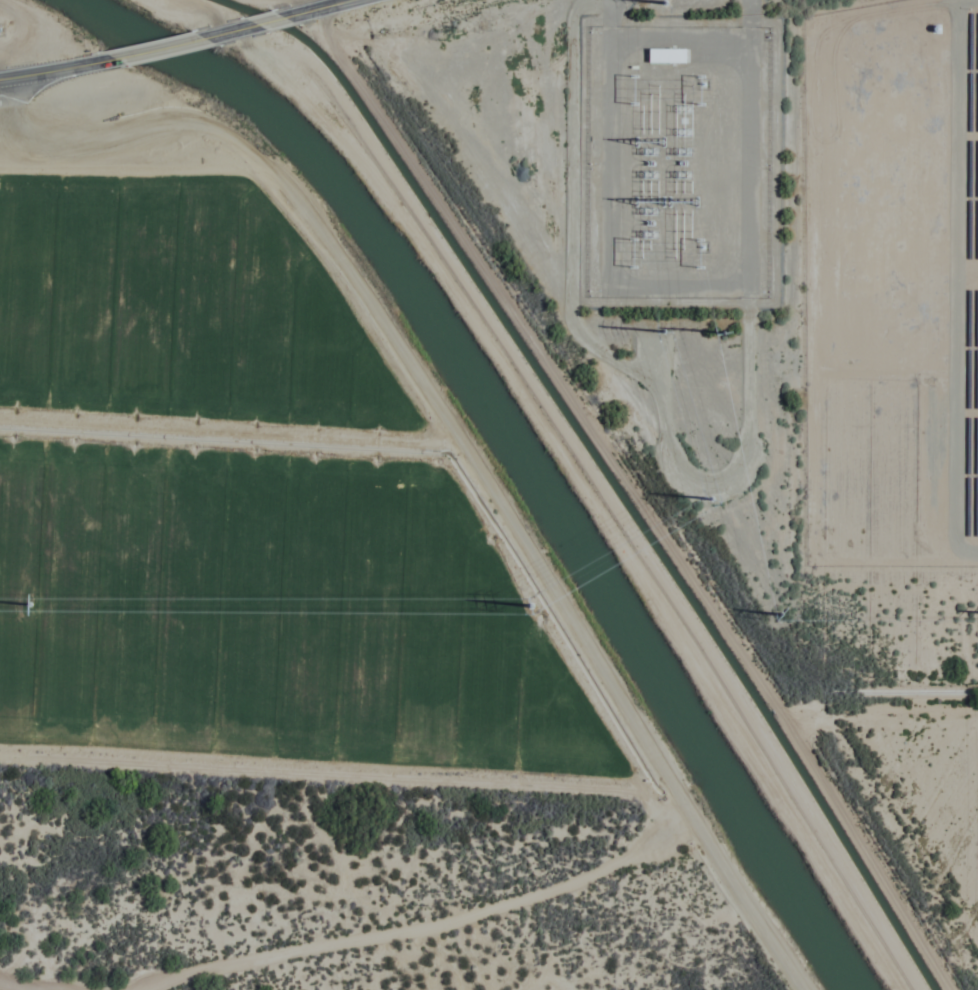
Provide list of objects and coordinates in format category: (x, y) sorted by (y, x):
road: (214, 15)
road: (282, 19)
road: (168, 51)
road: (60, 65)
power substation: (679, 161)
solar farm: (894, 287)
power tower: (664, 329)
power tower: (723, 329)
road: (596, 493)
power tower: (712, 495)
power tower: (29, 601)
power tower: (529, 601)
power tower: (781, 612)

